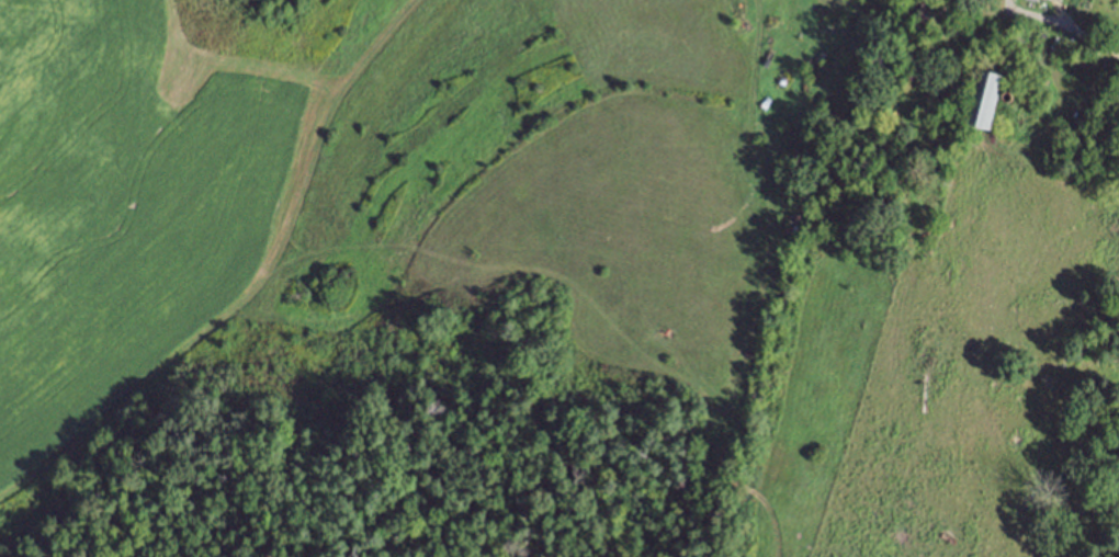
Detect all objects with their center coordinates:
building: (1028, 0)
building: (925, 11)
road: (1065, 31)
building: (1083, 60)
building: (1118, 92)
building: (984, 96)

